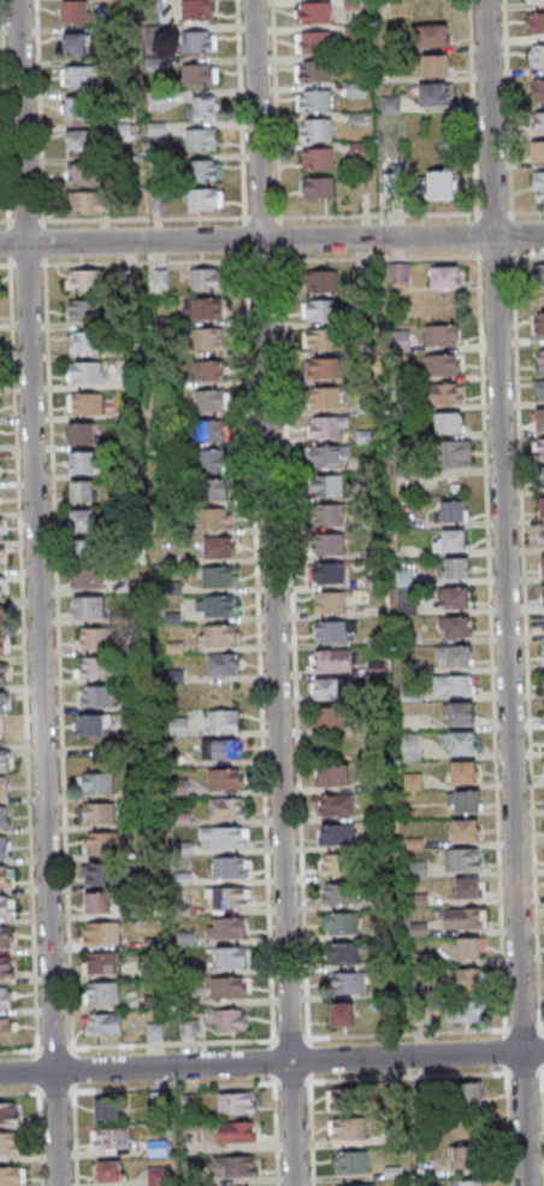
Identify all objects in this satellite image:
building: (533, 0)
building: (196, 10)
building: (78, 11)
building: (315, 12)
building: (536, 22)
building: (432, 35)
building: (200, 41)
building: (317, 41)
building: (79, 43)
building: (537, 55)
building: (434, 64)
building: (315, 70)
building: (201, 74)
building: (79, 77)
building: (536, 93)
building: (434, 94)
building: (317, 100)
building: (202, 106)
building: (82, 108)
road: (8, 111)
road: (43, 111)
building: (538, 123)
building: (317, 128)
building: (201, 139)
building: (83, 141)
building: (359, 151)
building: (537, 152)
building: (318, 158)
building: (206, 170)
building: (84, 174)
building: (539, 184)
building: (440, 186)
building: (319, 187)
building: (205, 199)
building: (89, 202)
road: (271, 217)
road: (271, 237)
road: (272, 260)
building: (401, 272)
building: (538, 274)
building: (444, 276)
building: (206, 278)
building: (85, 280)
building: (326, 281)
building: (202, 309)
building: (85, 310)
building: (327, 311)
building: (538, 324)
building: (442, 335)
building: (206, 337)
building: (329, 340)
building: (85, 342)
building: (538, 362)
building: (443, 365)
building: (332, 368)
building: (209, 370)
building: (84, 371)
building: (539, 391)
building: (445, 394)
building: (330, 398)
building: (212, 400)
building: (85, 404)
building: (539, 421)
building: (449, 423)
building: (331, 427)
building: (211, 430)
building: (82, 433)
building: (539, 450)
building: (455, 453)
building: (332, 457)
building: (212, 459)
building: (83, 462)
building: (0, 469)
building: (543, 480)
building: (332, 486)
building: (217, 488)
building: (82, 492)
building: (0, 498)
building: (542, 507)
building: (454, 511)
building: (332, 515)
building: (215, 518)
building: (83, 521)
building: (2, 528)
building: (543, 536)
building: (451, 541)
building: (333, 544)
building: (88, 550)
building: (218, 550)
building: (2, 557)
building: (542, 565)
building: (462, 568)
building: (335, 574)
building: (223, 577)
building: (93, 580)
building: (2, 587)
road: (42, 592)
road: (278, 592)
road: (510, 592)
building: (542, 595)
building: (462, 599)
building: (335, 603)
building: (223, 606)
building: (94, 607)
building: (2, 615)
building: (543, 626)
building: (463, 628)
building: (336, 632)
building: (225, 636)
building: (101, 639)
building: (5, 645)
building: (543, 653)
building: (465, 657)
building: (341, 660)
building: (227, 665)
building: (102, 668)
building: (4, 674)
building: (455, 686)
building: (337, 688)
building: (104, 697)
building: (5, 703)
building: (468, 714)
building: (336, 718)
building: (224, 720)
building: (93, 724)
building: (177, 727)
building: (2, 732)
building: (468, 744)
building: (410, 747)
building: (223, 748)
building: (4, 762)
building: (469, 774)
building: (333, 775)
building: (225, 779)
building: (97, 785)
building: (4, 786)
building: (473, 803)
building: (336, 805)
building: (225, 806)
building: (97, 815)
building: (4, 816)
building: (471, 832)
building: (336, 835)
building: (226, 836)
building: (101, 844)
building: (4, 846)
building: (468, 861)
building: (337, 865)
building: (229, 867)
building: (97, 873)
building: (4, 876)
building: (474, 891)
building: (338, 894)
building: (230, 897)
building: (97, 903)
building: (4, 906)
building: (467, 920)
building: (342, 924)
building: (229, 927)
building: (102, 932)
building: (6, 937)
building: (474, 950)
building: (343, 953)
building: (230, 957)
building: (102, 963)
building: (6, 967)
building: (468, 981)
building: (348, 982)
building: (227, 986)
building: (101, 993)
building: (5, 998)
building: (473, 1012)
building: (342, 1014)
building: (231, 1020)
building: (104, 1023)
building: (8, 1029)
building: (188, 1029)
building: (154, 1031)
road: (271, 1062)
building: (472, 1093)
building: (343, 1099)
building: (235, 1102)
building: (107, 1109)
building: (11, 1115)
building: (347, 1128)
building: (236, 1132)
building: (112, 1138)
building: (12, 1144)
building: (463, 1157)
building: (349, 1161)
building: (238, 1166)
building: (114, 1173)
building: (159, 1175)
building: (14, 1178)
building: (471, 1182)
building: (354, 1185)

